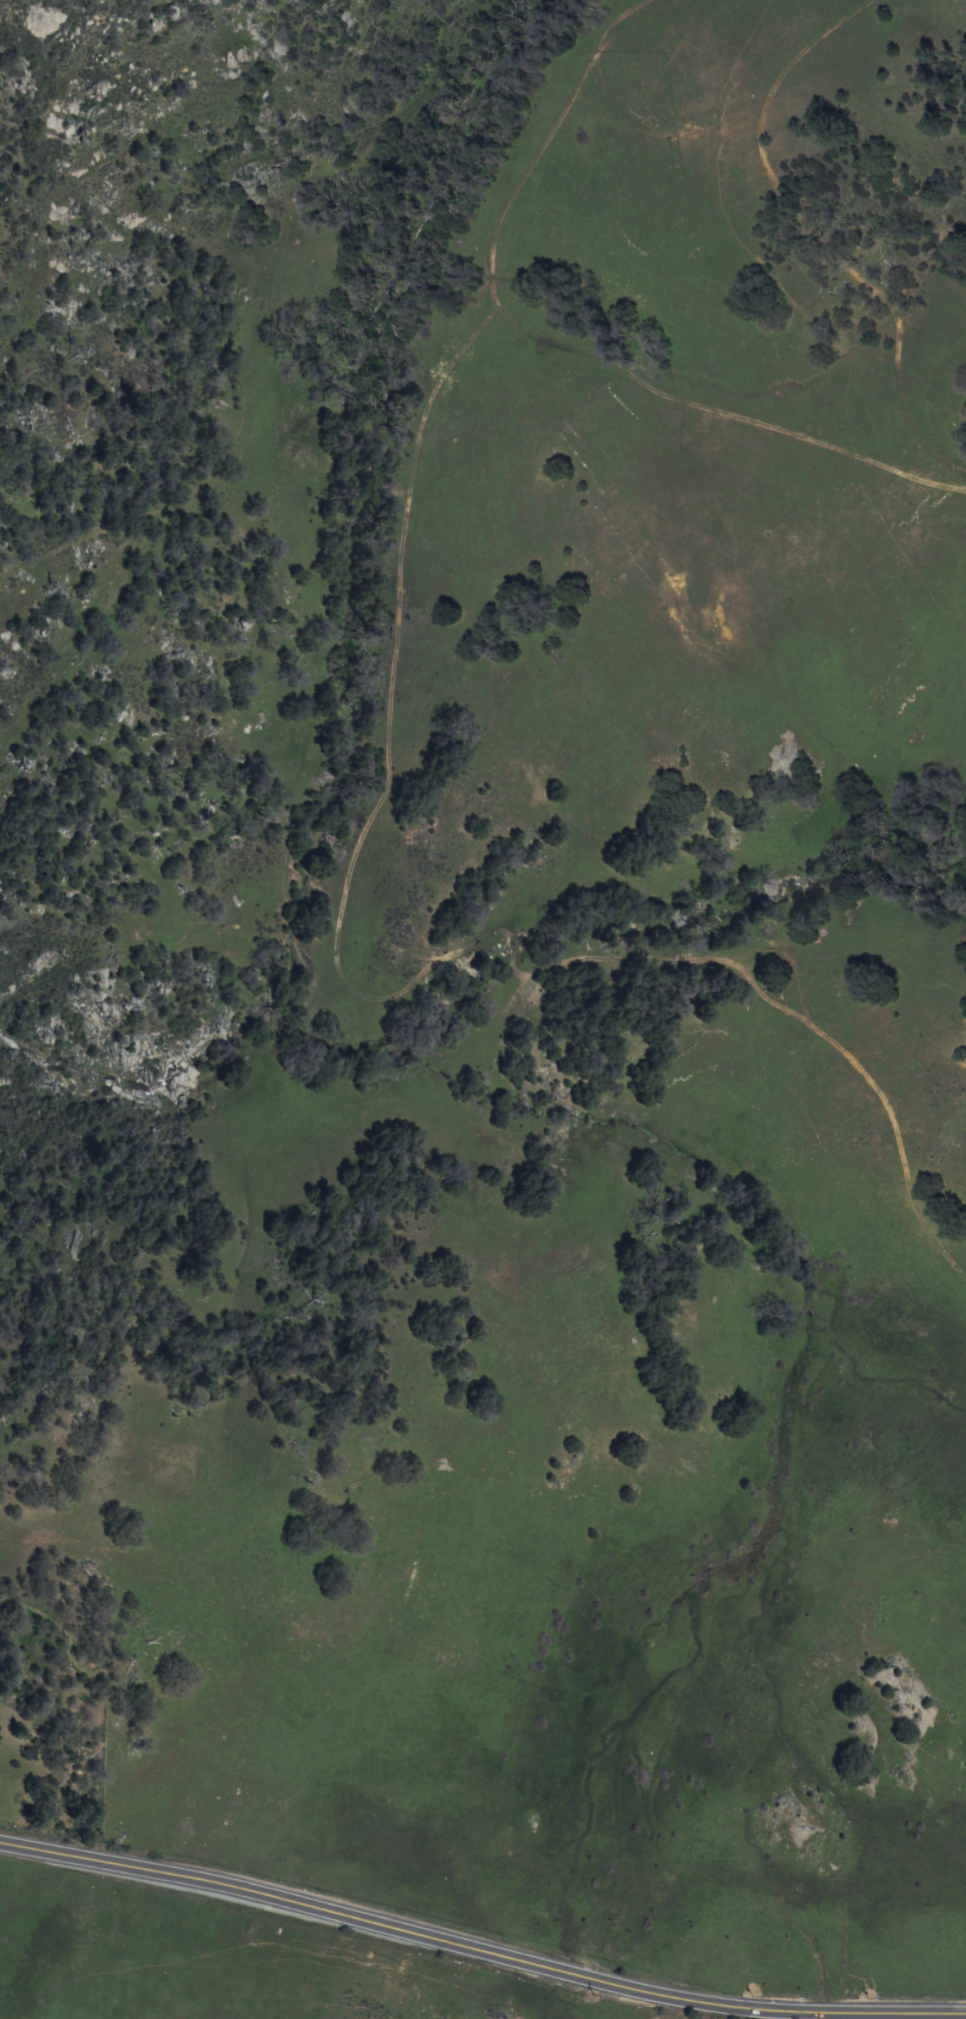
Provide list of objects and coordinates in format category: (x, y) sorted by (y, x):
road: (480, 1949)

